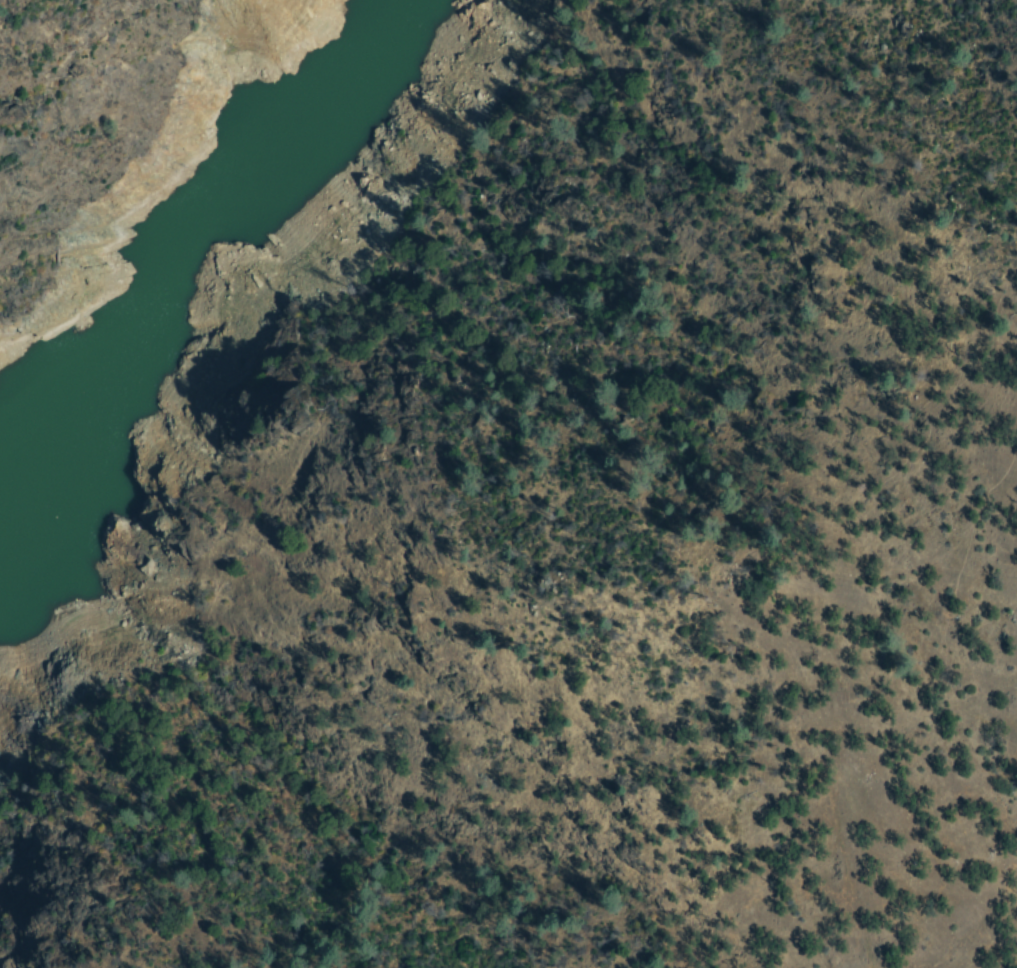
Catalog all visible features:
river: (204, 255)

